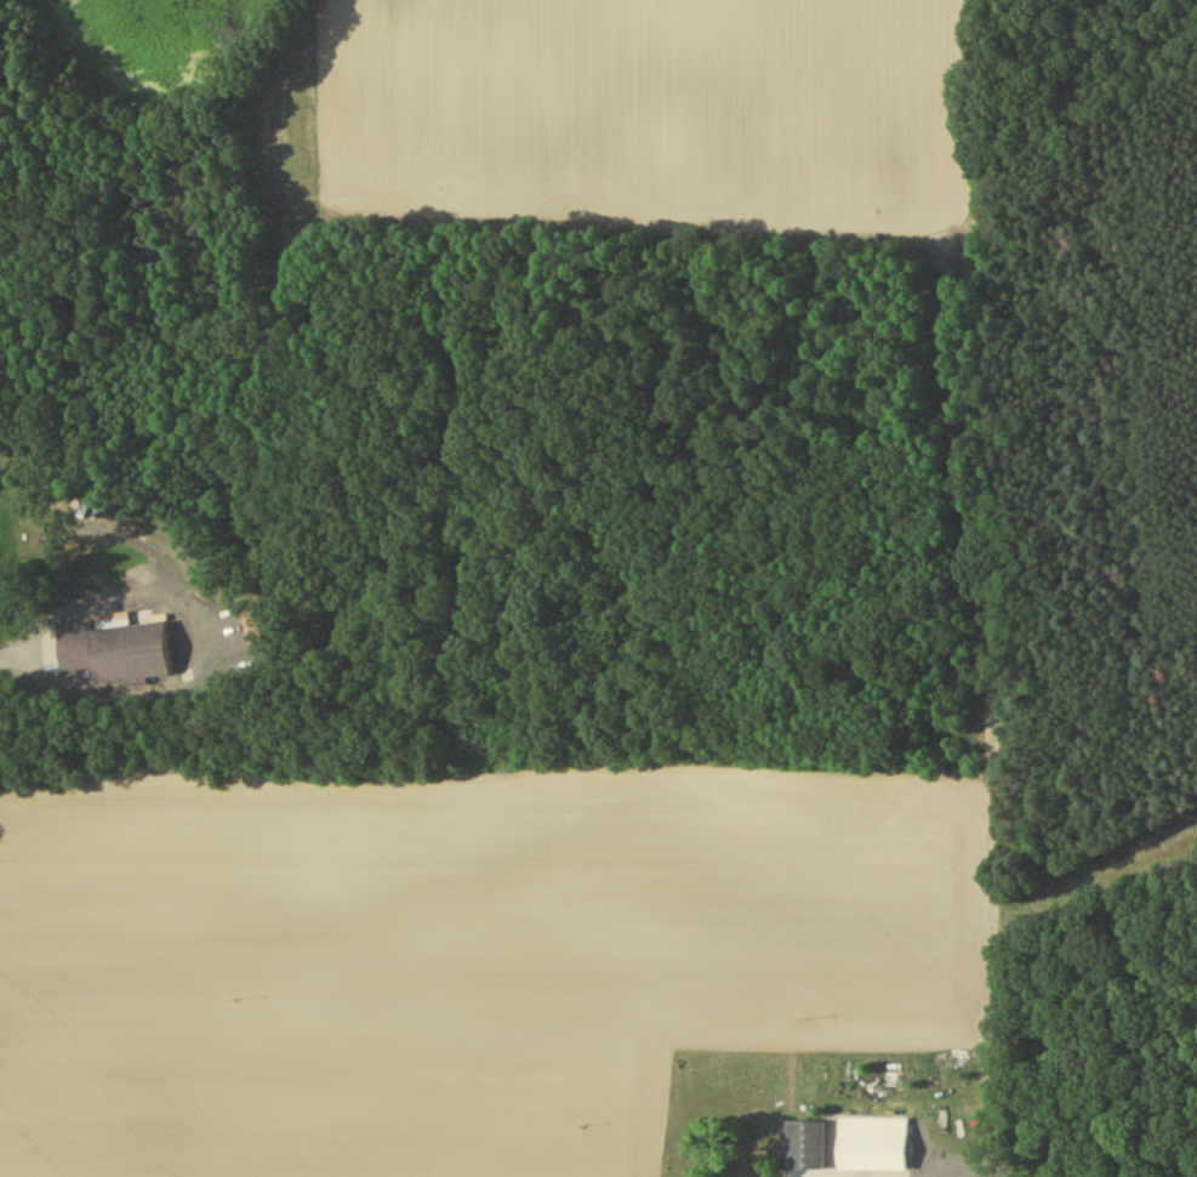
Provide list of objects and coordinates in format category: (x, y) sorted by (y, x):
road: (52, 605)
building: (114, 656)
building: (803, 1148)
building: (873, 1148)

